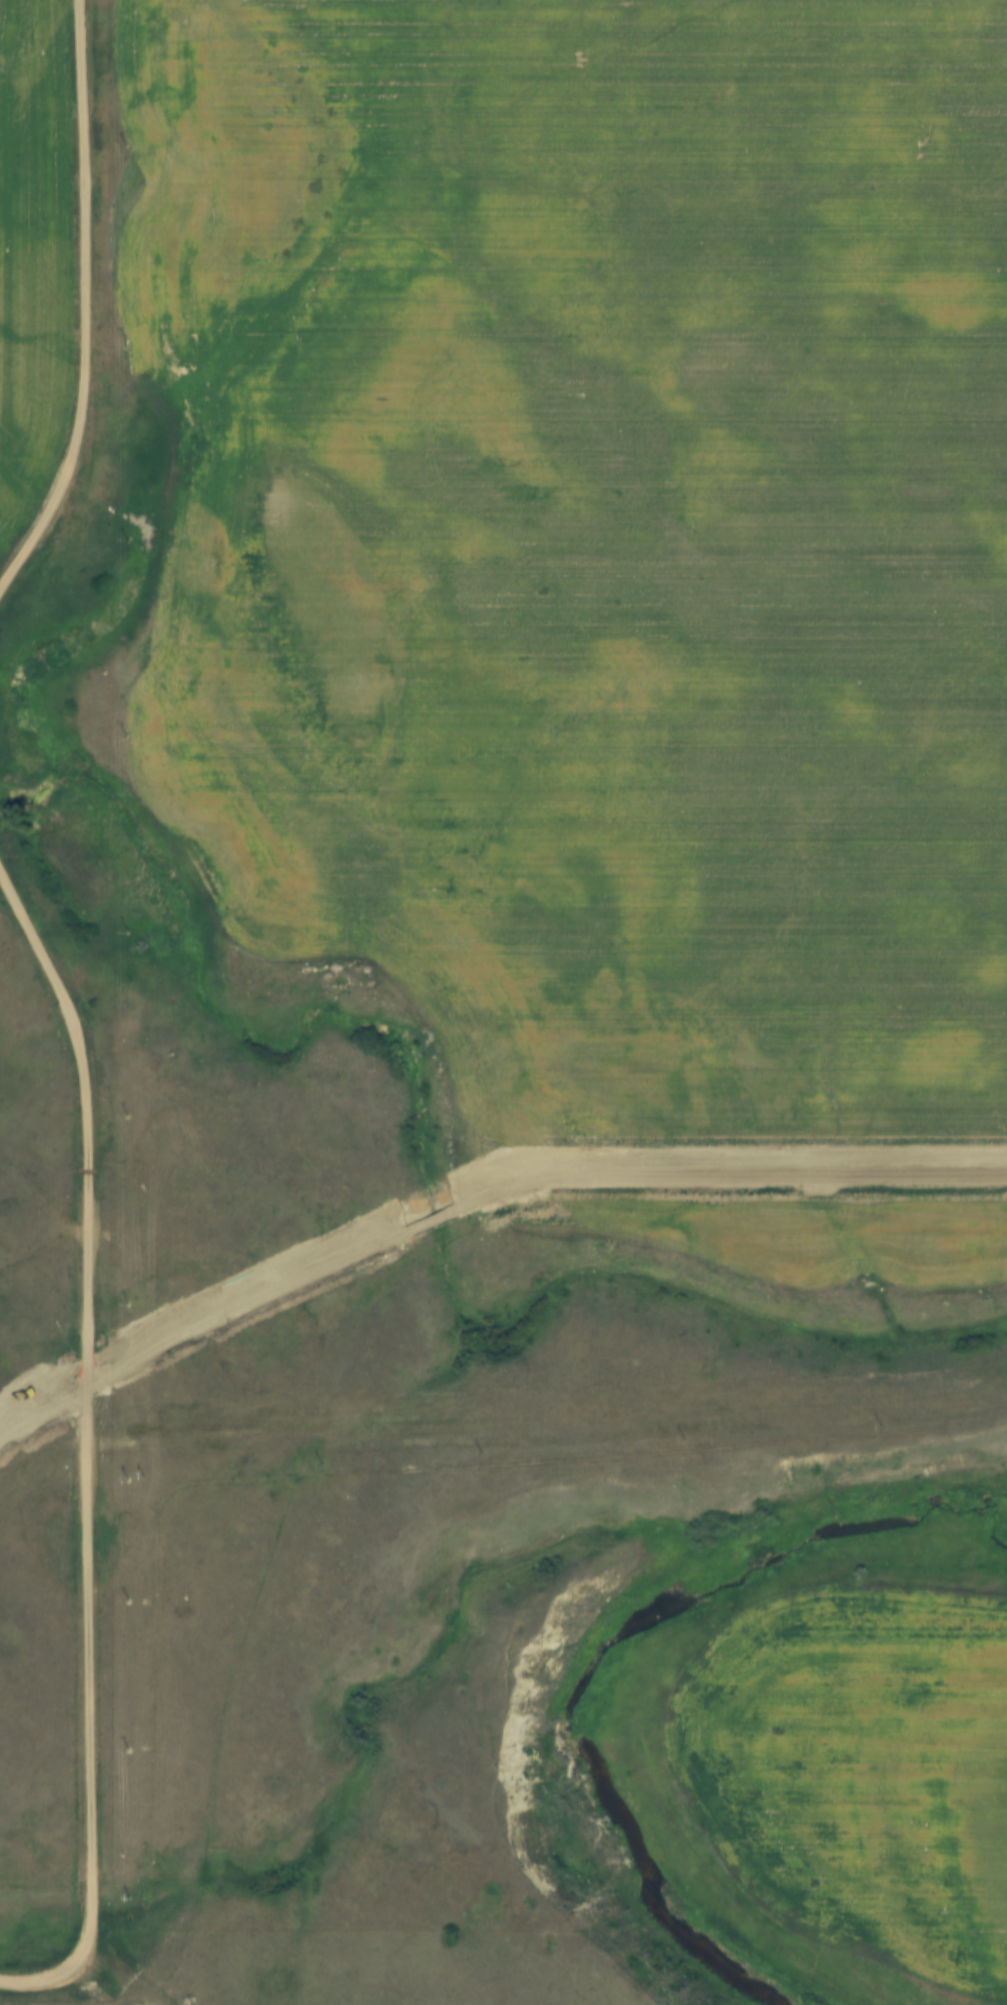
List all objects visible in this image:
road: (88, 309)
road: (94, 1396)
road: (47, 1976)
road: (121, 1978)

